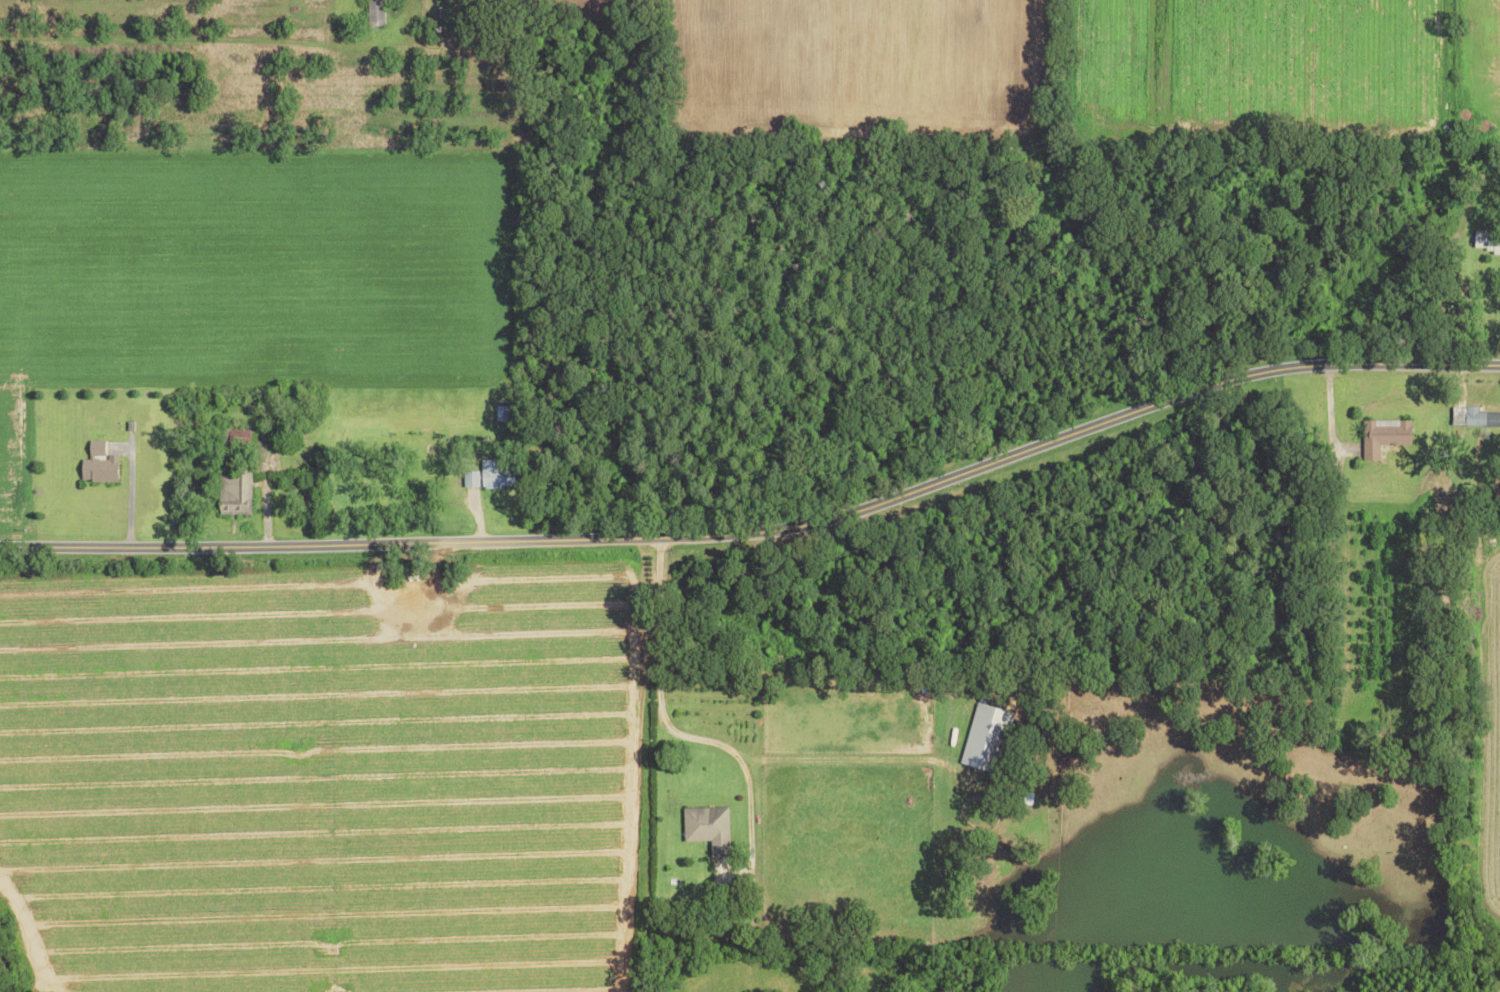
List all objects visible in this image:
building: (374, 11)
building: (1487, 240)
building: (1481, 417)
building: (1384, 435)
building: (236, 437)
building: (98, 463)
building: (495, 475)
building: (470, 478)
building: (235, 491)
road: (763, 530)
road: (659, 694)
building: (987, 737)
building: (708, 827)

